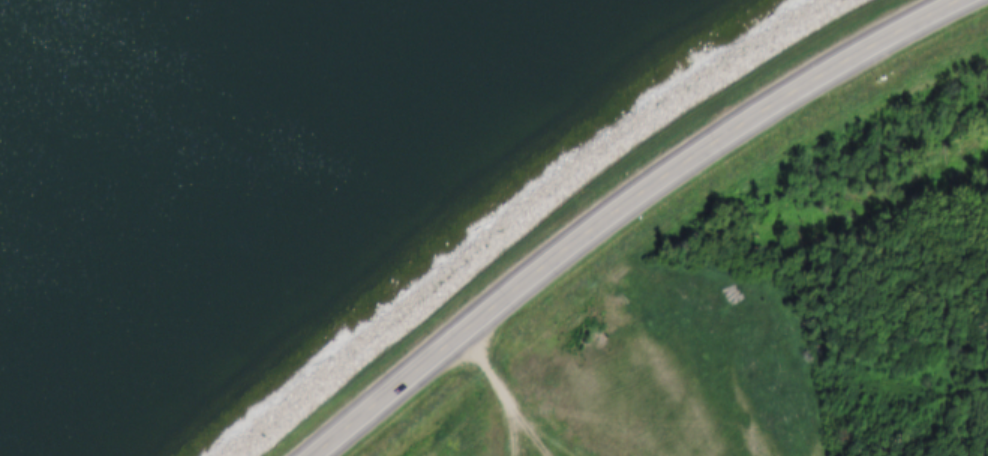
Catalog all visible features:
road: (536, 212)
quarry: (531, 435)

